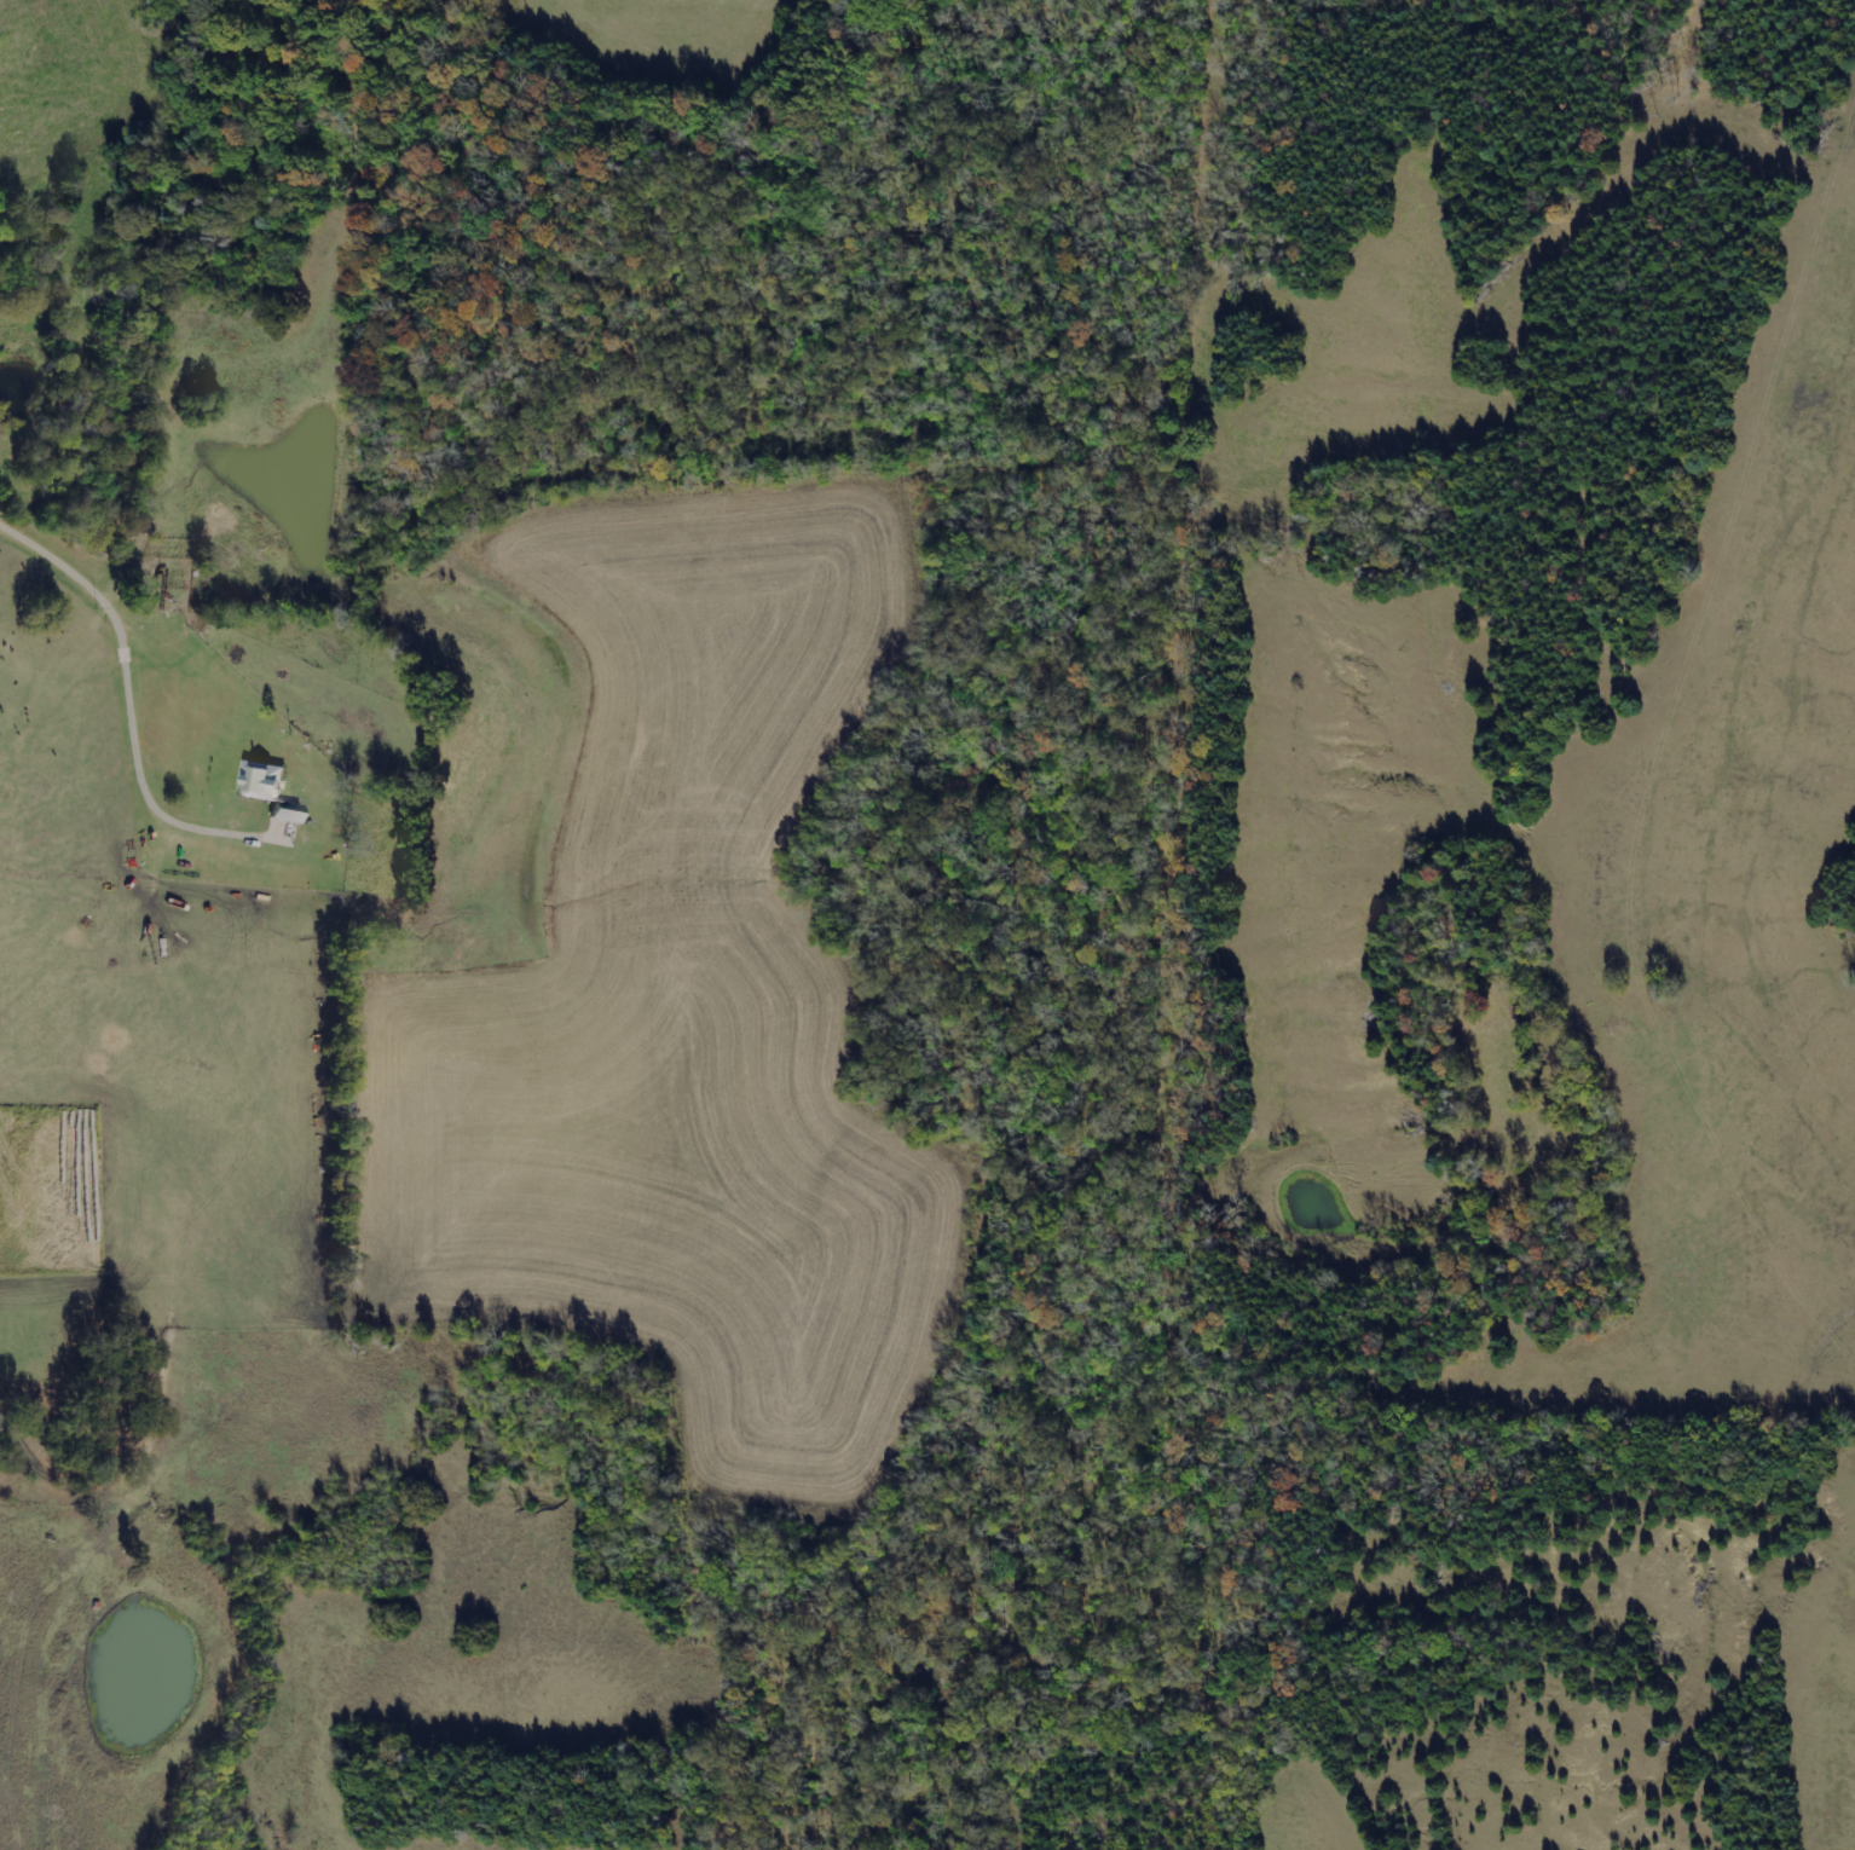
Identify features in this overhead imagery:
road: (21, 536)
road: (132, 732)
building: (268, 790)

